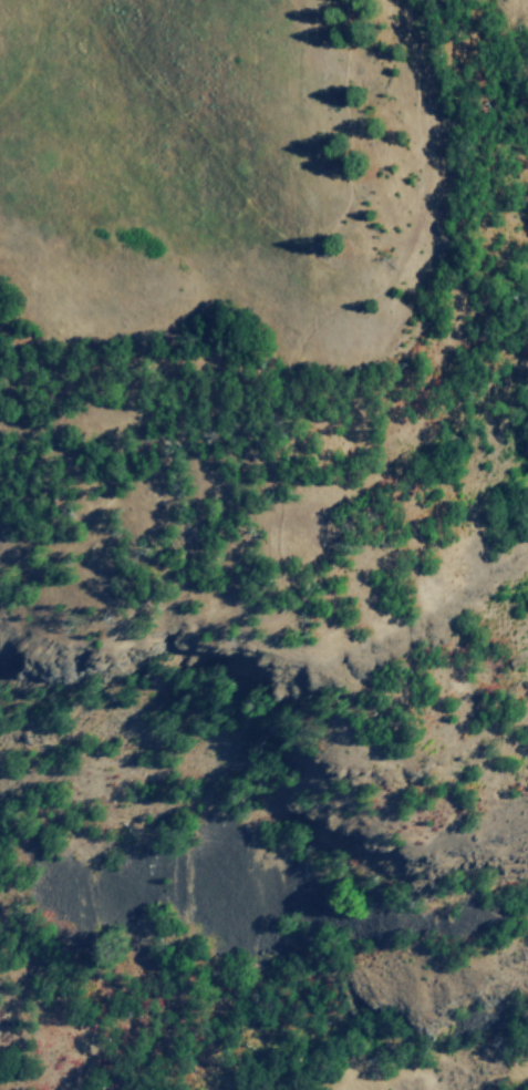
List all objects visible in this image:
road: (350, 125)
road: (203, 137)

